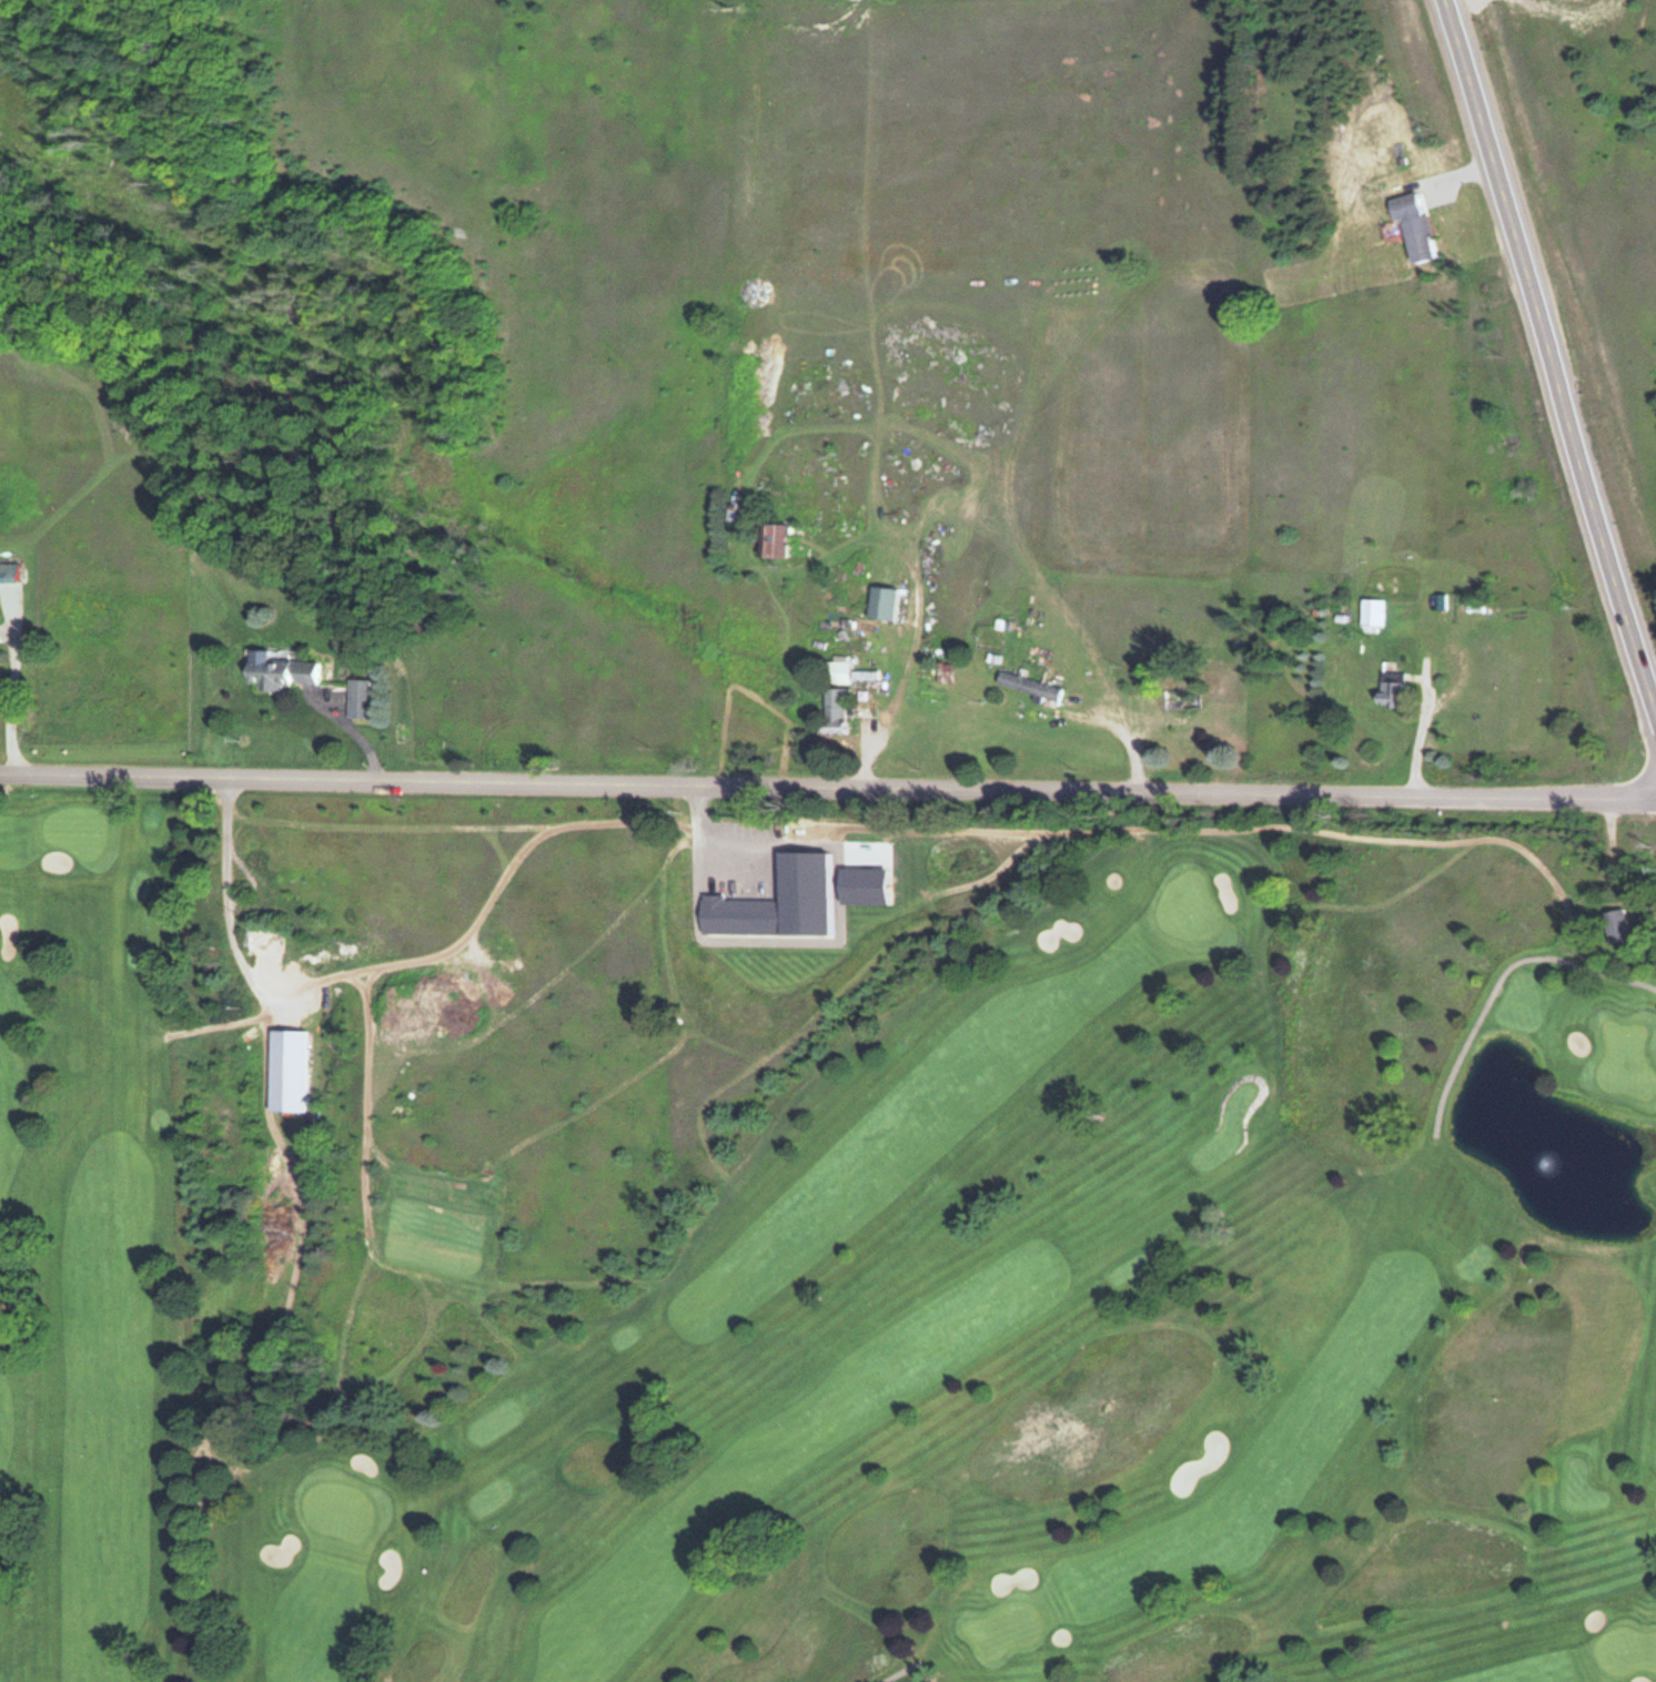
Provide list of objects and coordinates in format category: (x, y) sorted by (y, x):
building: (1411, 223)
road: (1554, 335)
building: (771, 540)
building: (12, 573)
building: (879, 602)
building: (1371, 610)
building: (280, 671)
building: (837, 671)
building: (0, 675)
building: (1028, 686)
building: (1389, 688)
building: (357, 698)
building: (834, 707)
road: (828, 784)
building: (1614, 922)
building: (285, 1068)
park: (815, 1247)

